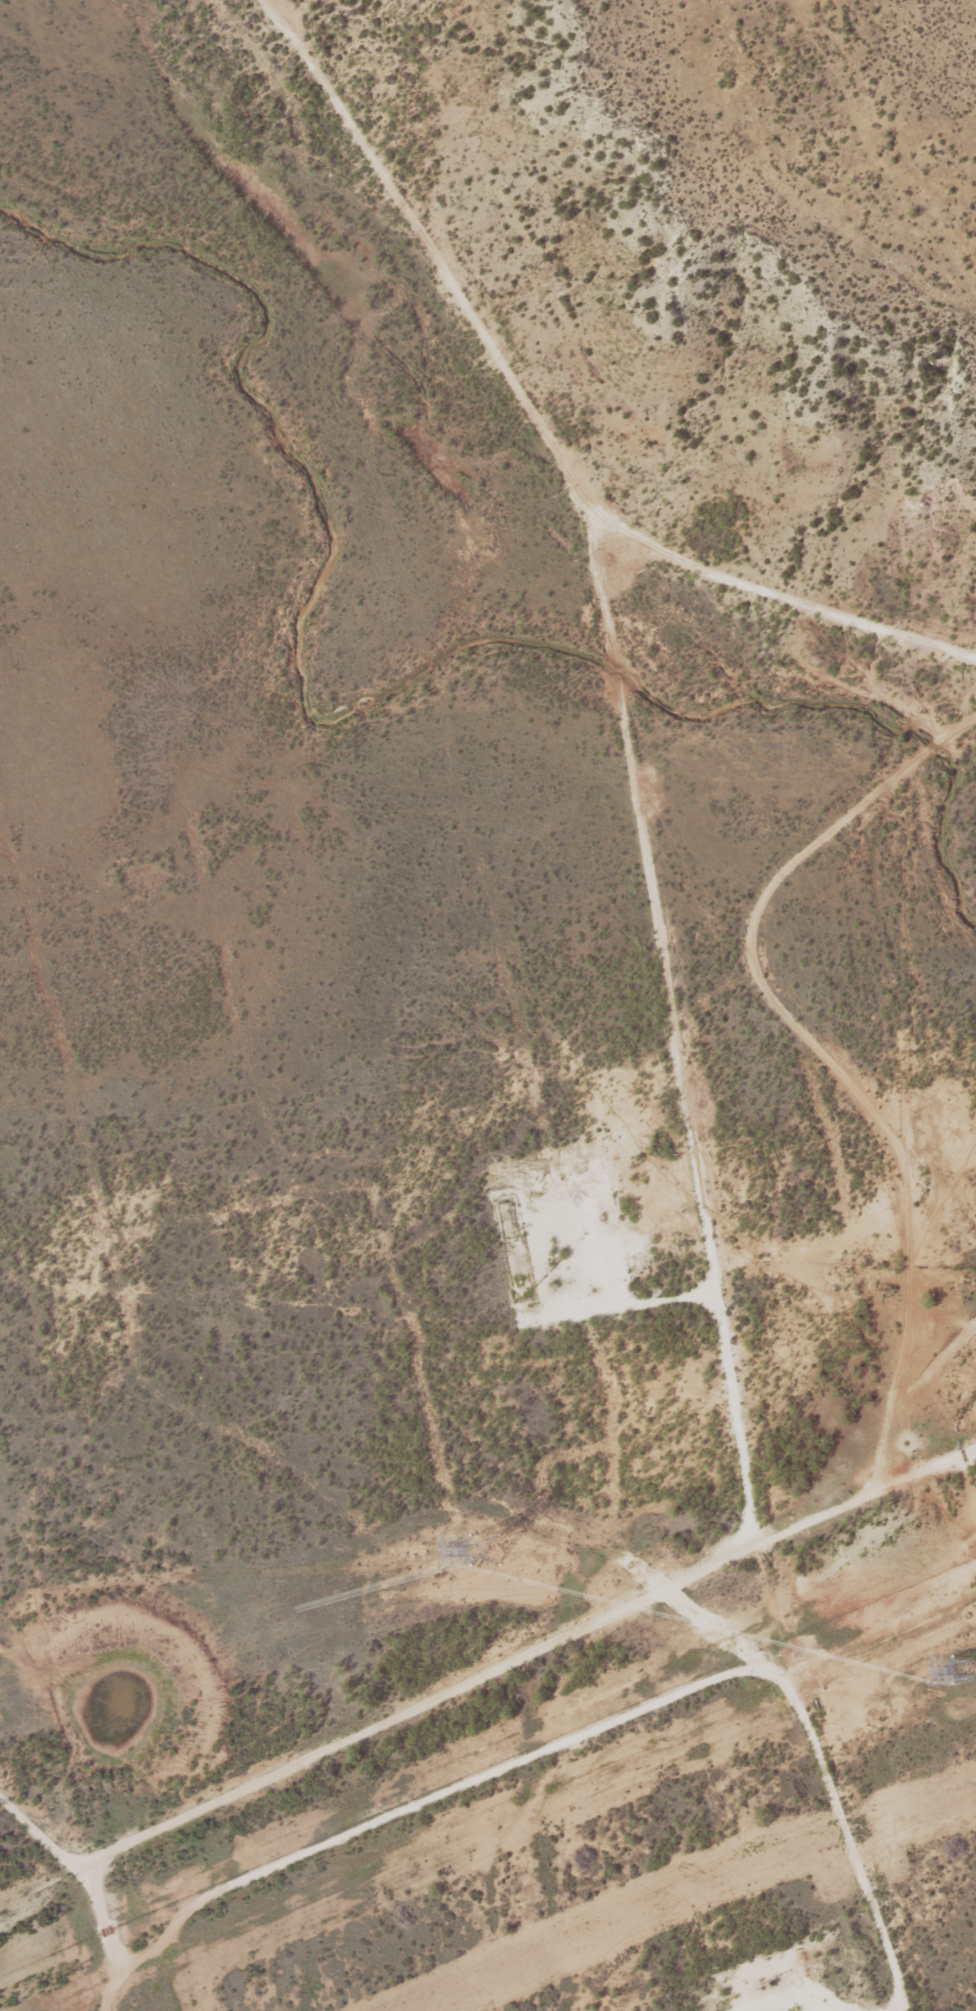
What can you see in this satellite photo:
power tower: (484, 1549)
power tower: (970, 1670)

